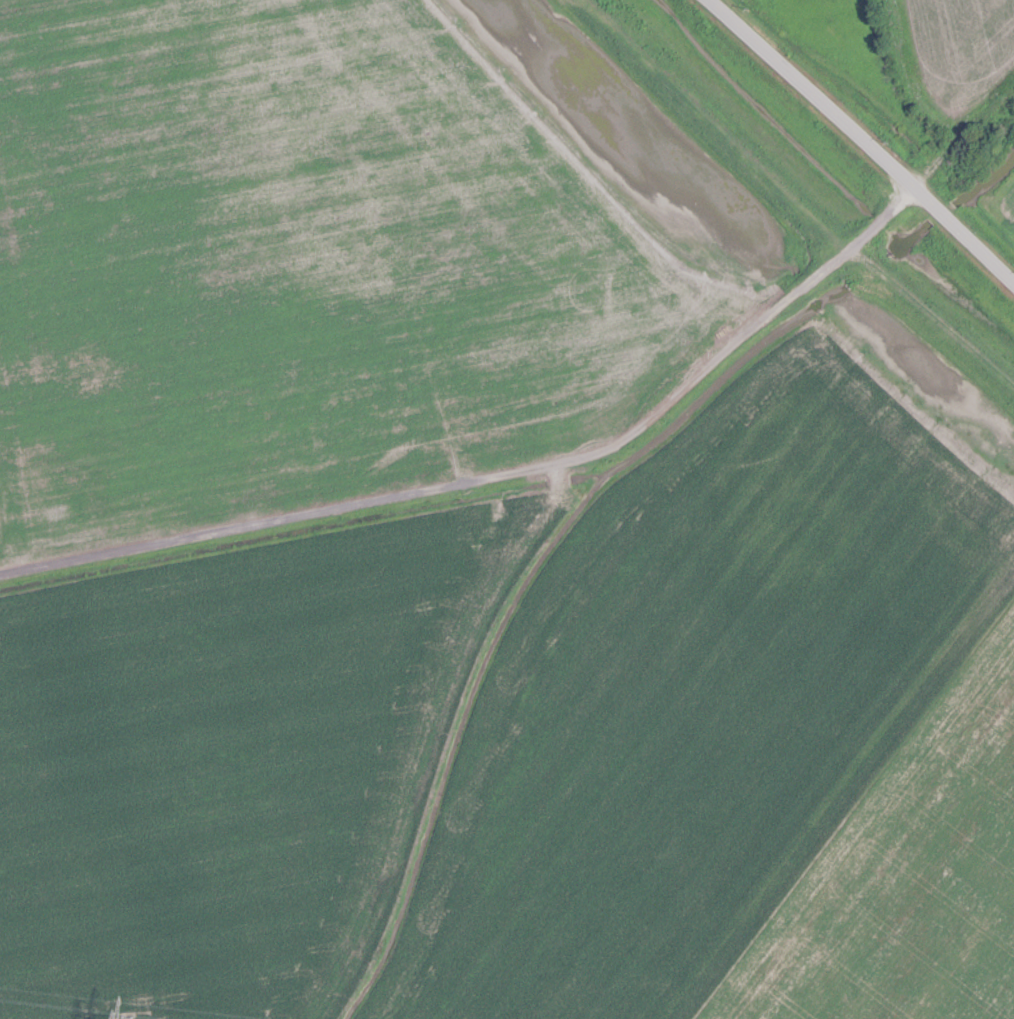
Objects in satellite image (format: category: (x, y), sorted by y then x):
road: (863, 140)

